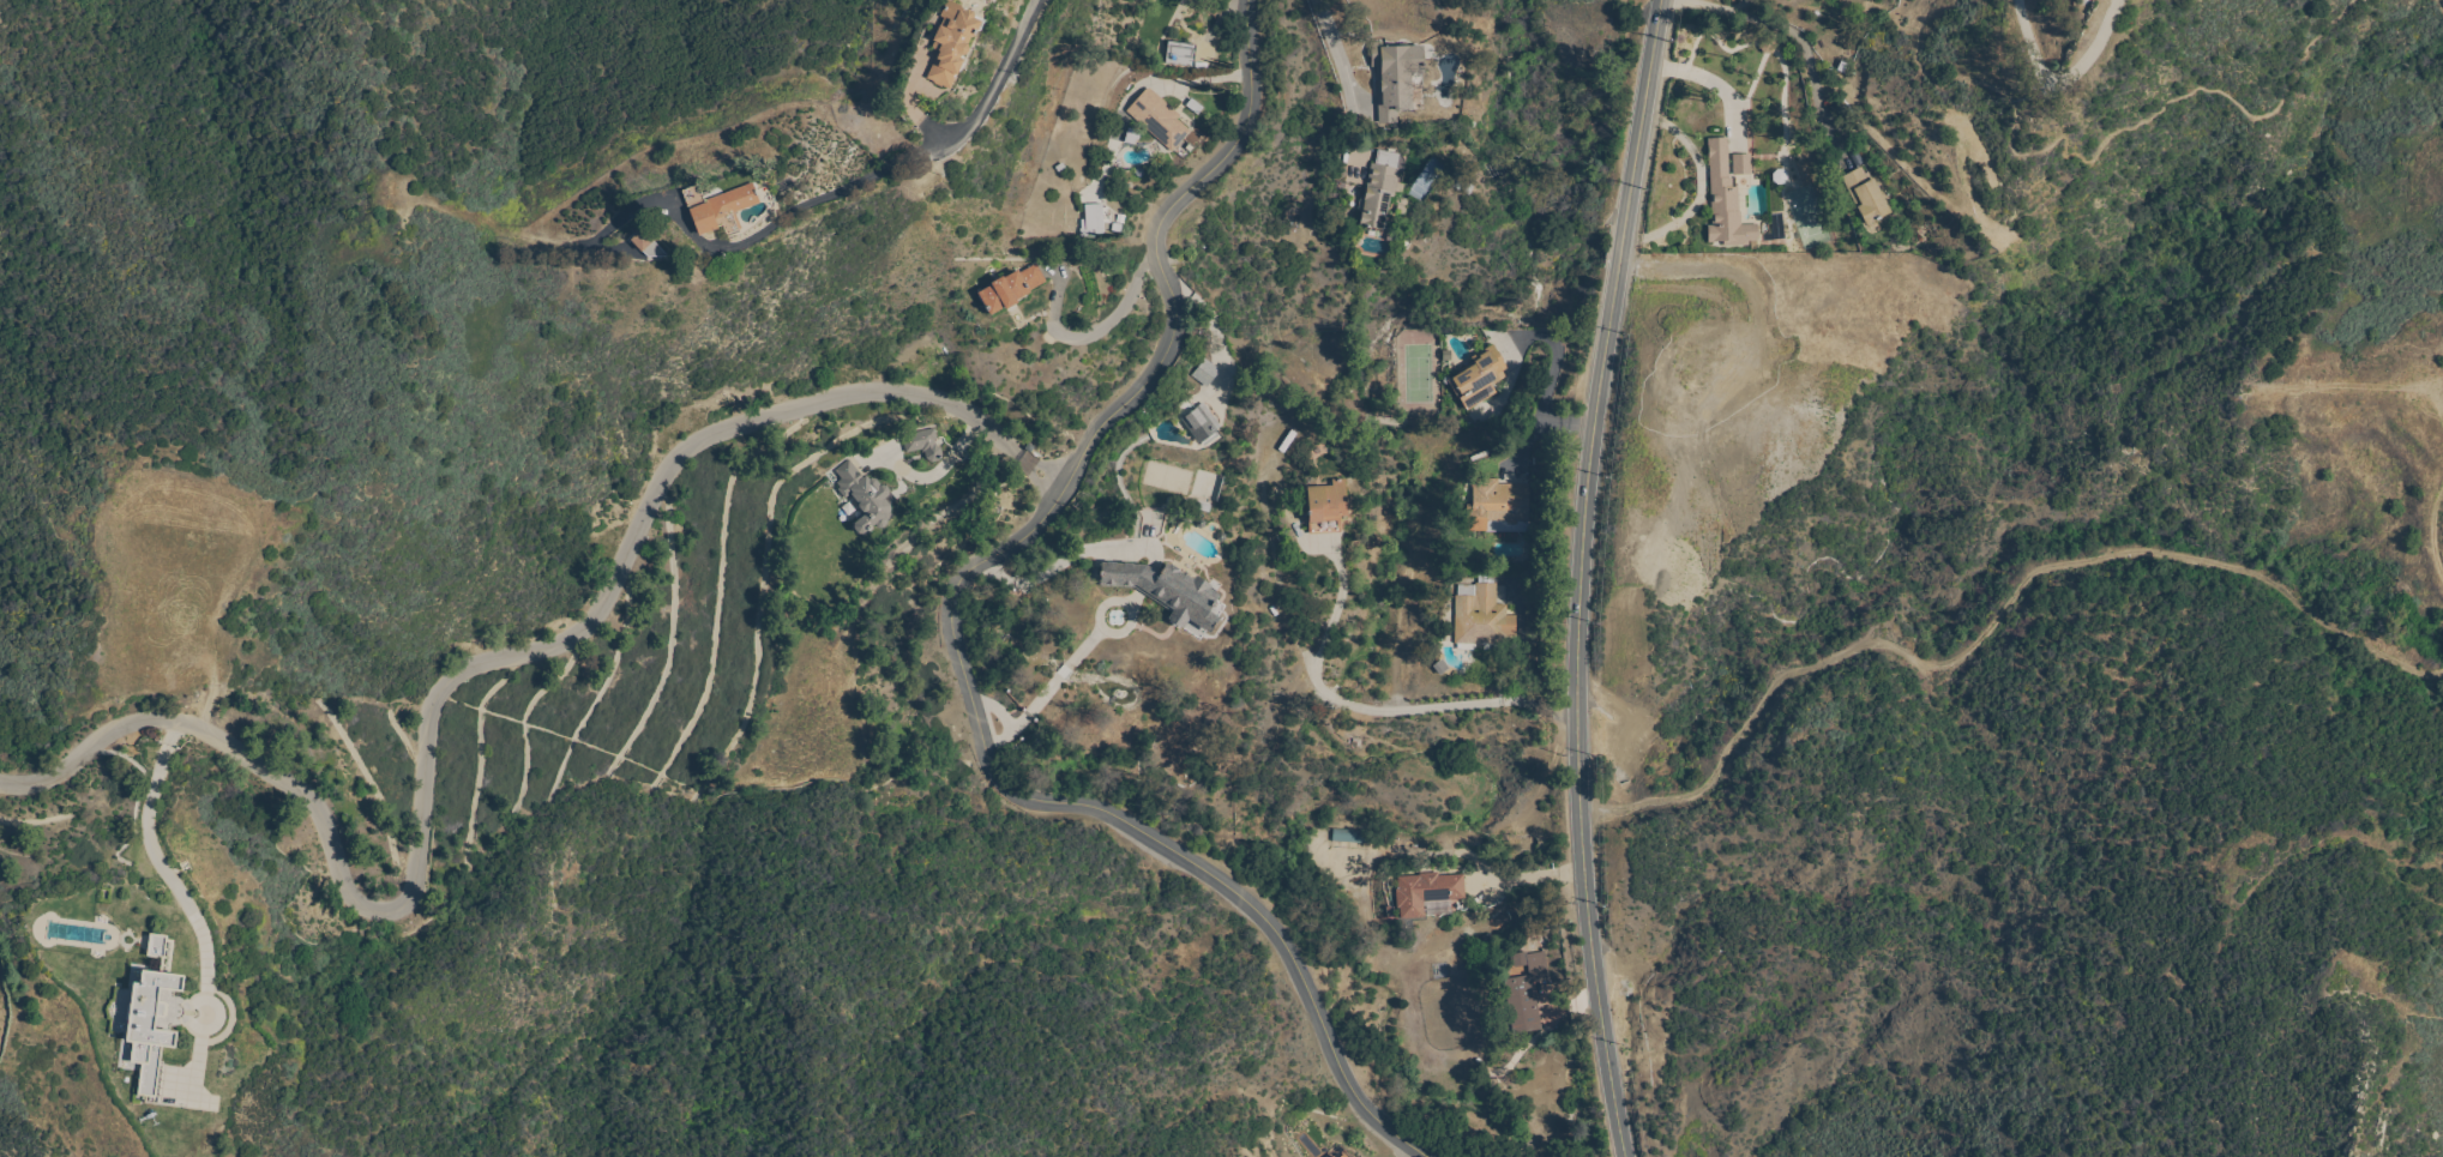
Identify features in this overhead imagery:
road: (2441, 5)
road: (1715, 7)
road: (1787, 30)
building: (952, 43)
building: (1180, 54)
road: (1342, 56)
building: (1395, 78)
road: (1707, 79)
road: (1214, 83)
road: (2062, 89)
road: (2191, 89)
building: (1159, 121)
road: (1824, 121)
road: (915, 157)
building: (1741, 164)
building: (1800, 174)
building: (1380, 188)
building: (1866, 195)
building: (1725, 200)
building: (718, 209)
building: (1093, 221)
building: (1992, 231)
building: (646, 243)
building: (1010, 289)
road: (1207, 314)
road: (1119, 318)
building: (1205, 373)
building: (1479, 378)
road: (1550, 378)
road: (2360, 386)
building: (1198, 421)
building: (923, 444)
road: (1024, 458)
road: (1047, 469)
road: (1035, 483)
building: (865, 496)
building: (1326, 507)
building: (1498, 507)
road: (2432, 526)
road: (1061, 566)
road: (1578, 577)
building: (1166, 591)
building: (1481, 616)
road: (1993, 628)
road: (958, 633)
road: (443, 695)
road: (1374, 715)
building: (1348, 836)
road: (2291, 854)
road: (162, 868)
road: (1526, 879)
road: (2418, 885)
building: (1427, 890)
building: (157, 945)
building: (1524, 993)
building: (150, 1026)
road: (2402, 1047)
road: (1412, 1151)
building: (1329, 1156)
building: (1334, 1156)
building: (1343, 1156)

